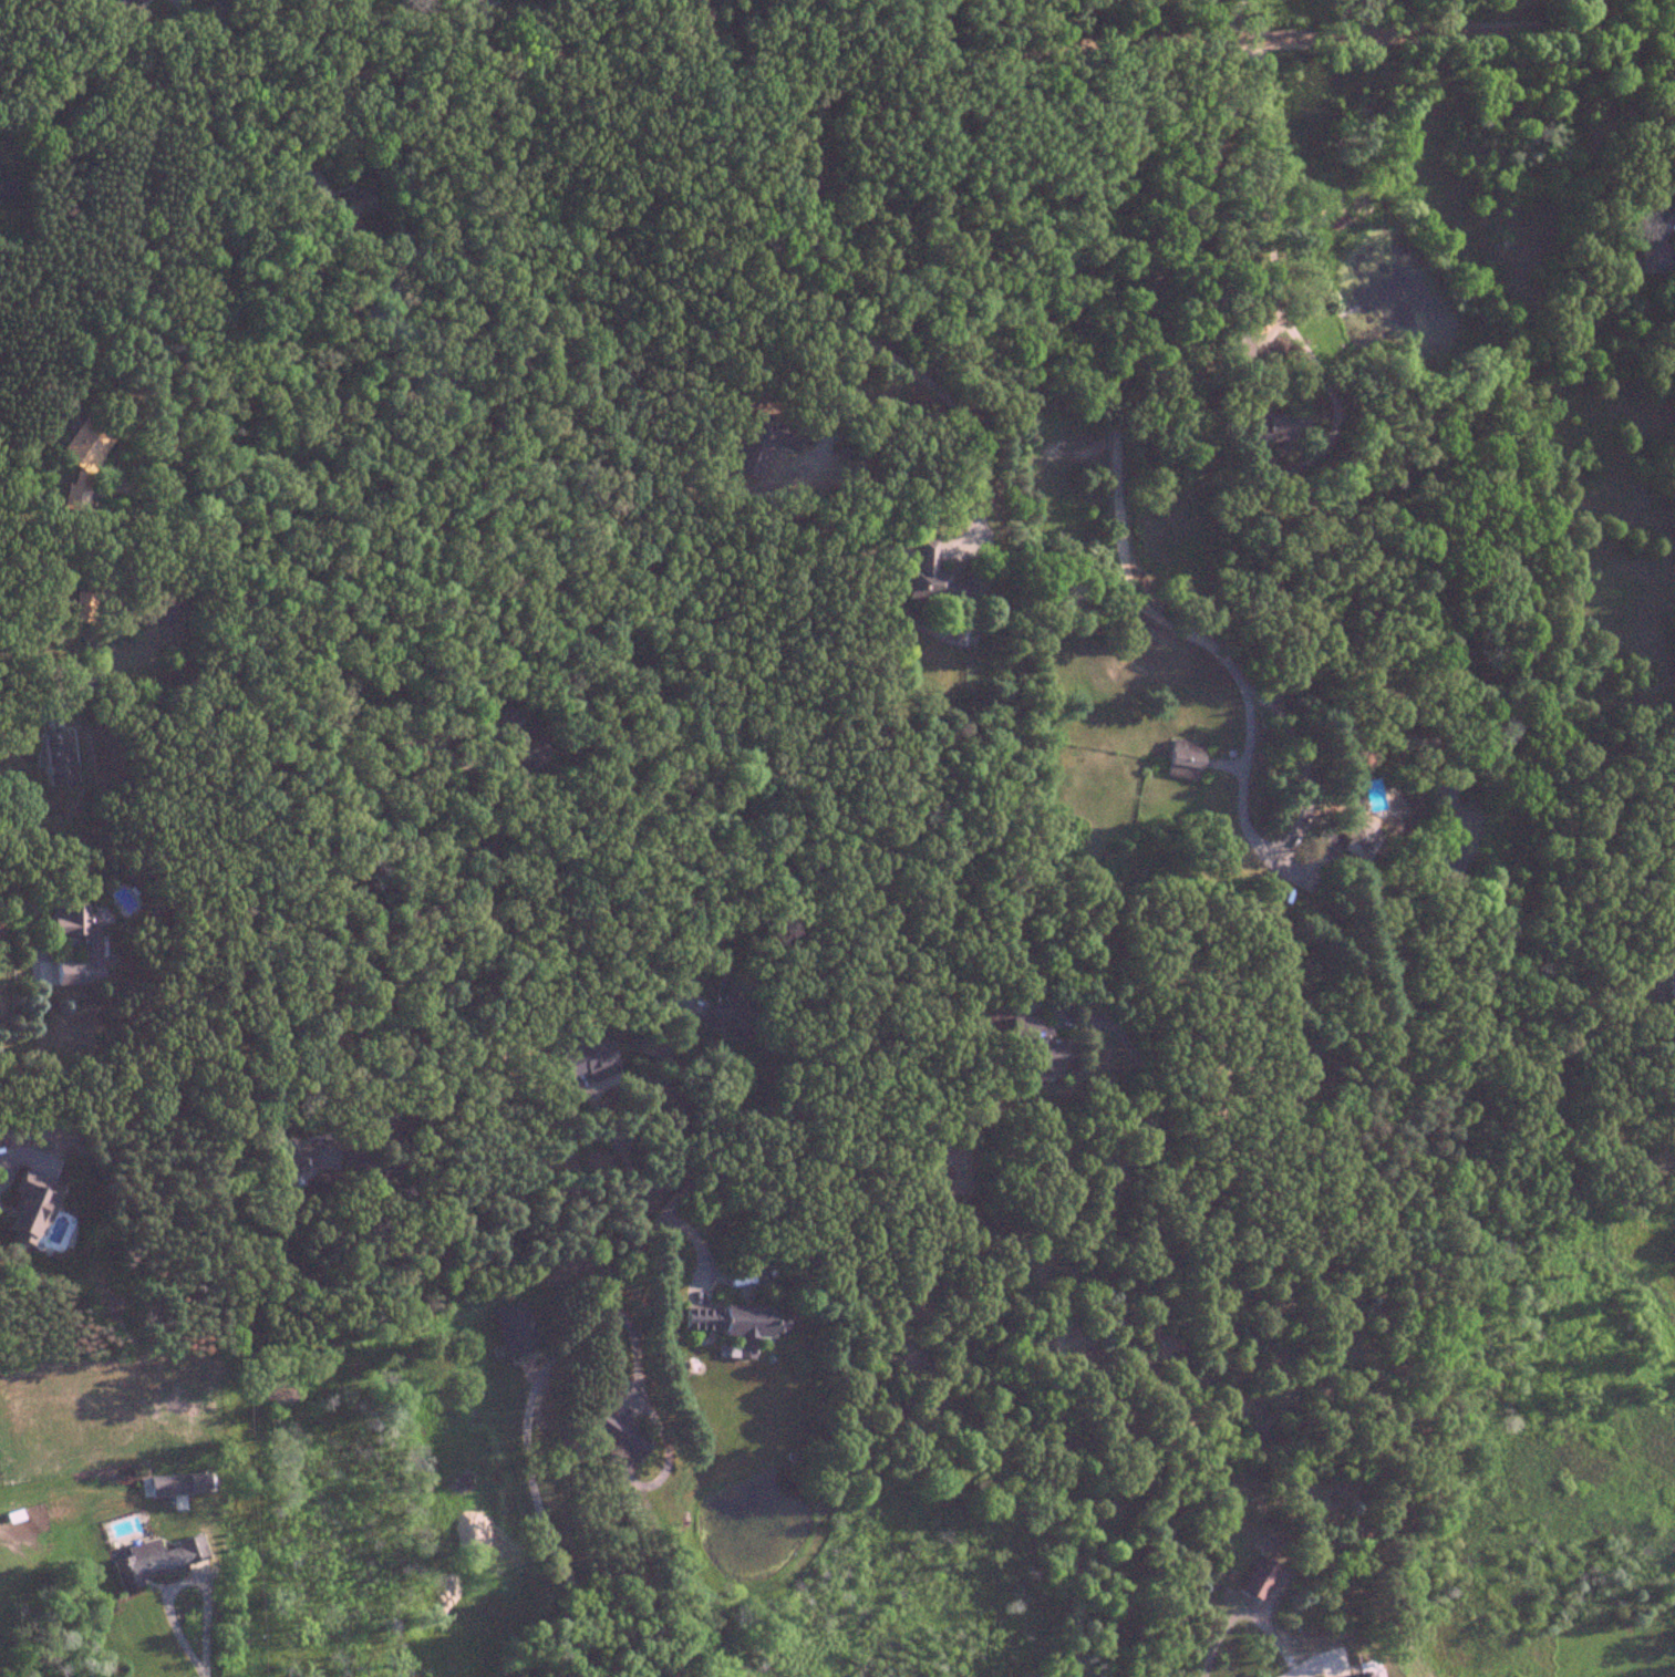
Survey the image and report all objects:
building: (122, 3)
road: (1198, 6)
road: (1212, 6)
road: (1231, 11)
road: (1640, 13)
road: (707, 24)
road: (1224, 28)
road: (933, 29)
road: (836, 63)
building: (354, 203)
building: (1651, 246)
road: (1272, 250)
road: (802, 307)
road: (155, 343)
building: (1263, 432)
building: (81, 460)
road: (1117, 483)
road: (225, 498)
building: (938, 578)
building: (82, 607)
building: (170, 612)
road: (40, 659)
building: (509, 718)
road: (1294, 735)
building: (530, 749)
building: (54, 758)
building: (1183, 758)
building: (1355, 835)
road: (2, 886)
building: (73, 946)
building: (1305, 969)
building: (1671, 982)
building: (732, 1007)
building: (1040, 1046)
road: (661, 1116)
road: (538, 1141)
building: (303, 1157)
building: (28, 1210)
road: (784, 1234)
building: (730, 1322)
road: (1059, 1327)
building: (618, 1435)
road: (527, 1442)
building: (157, 1560)
building: (1255, 1578)
road: (198, 1654)
road: (1289, 1674)
building: (1362, 1675)

